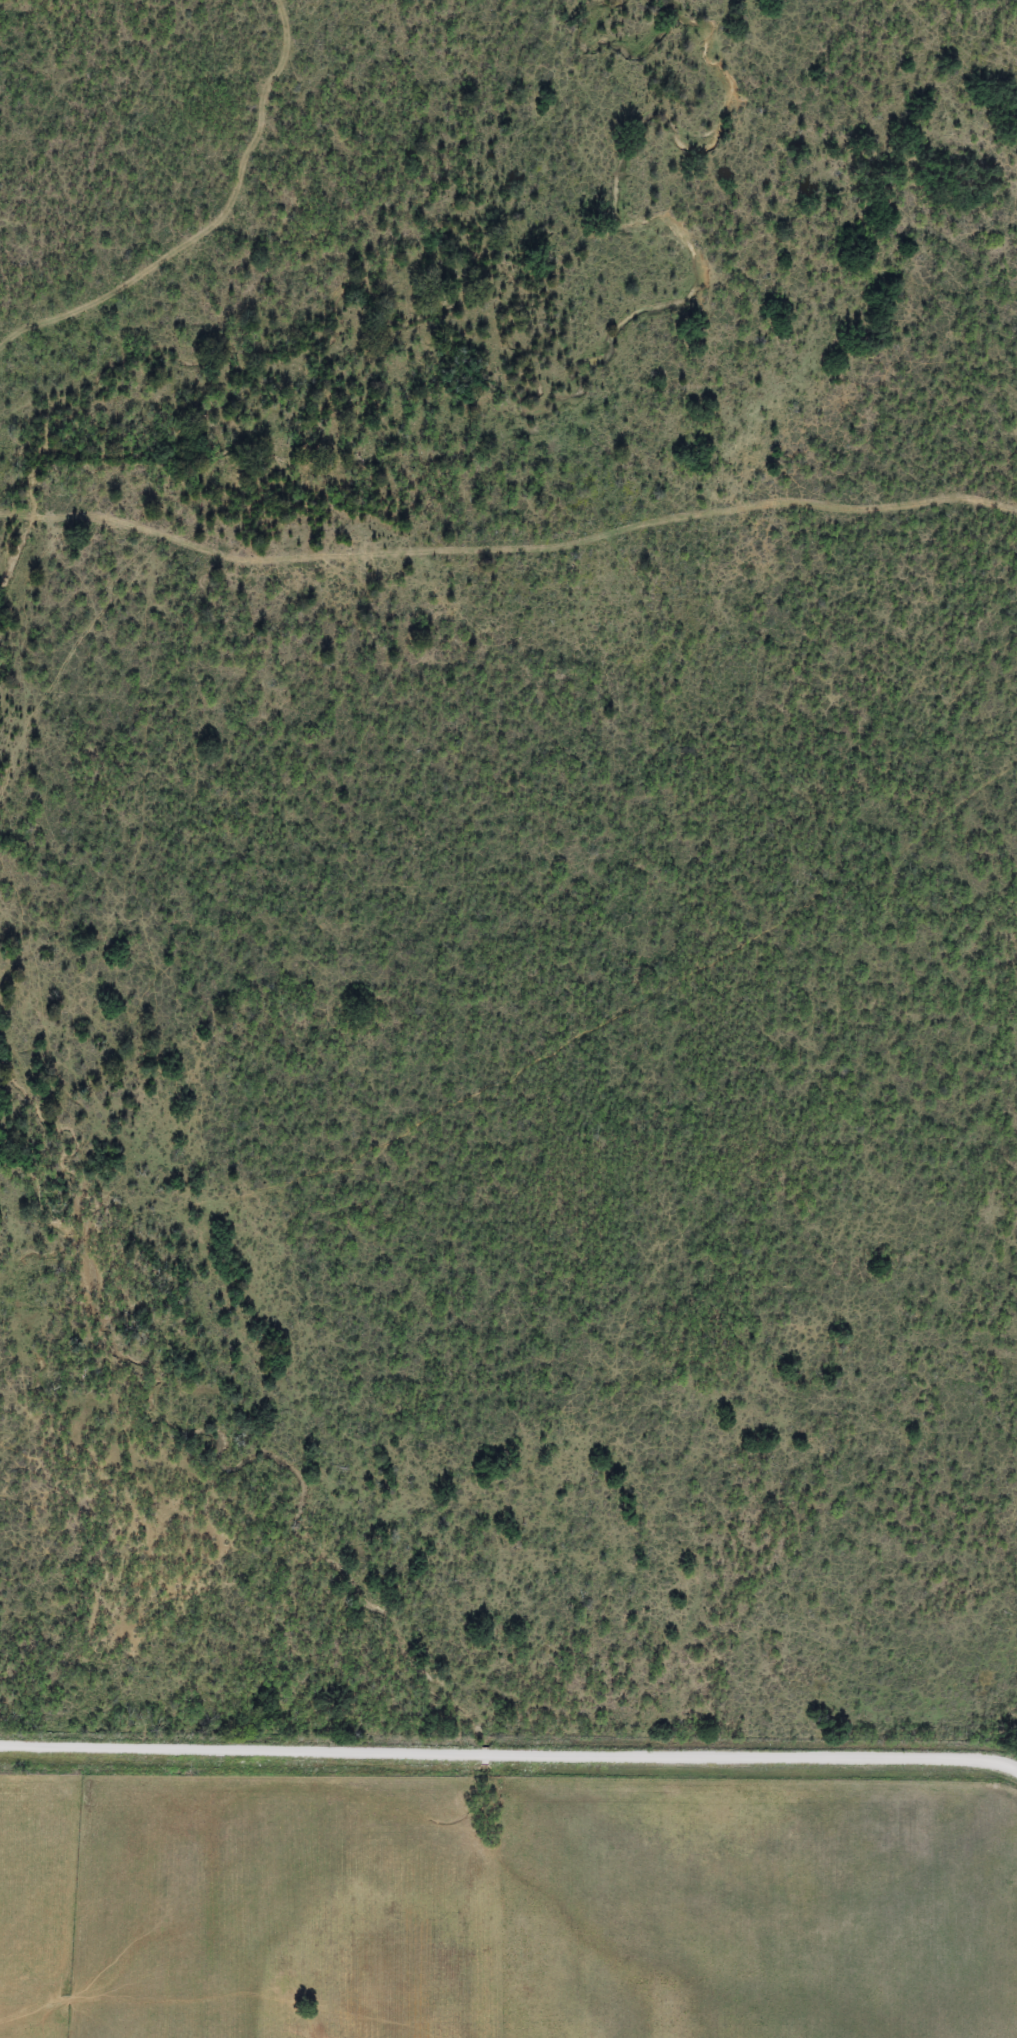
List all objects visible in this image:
road: (509, 1760)

